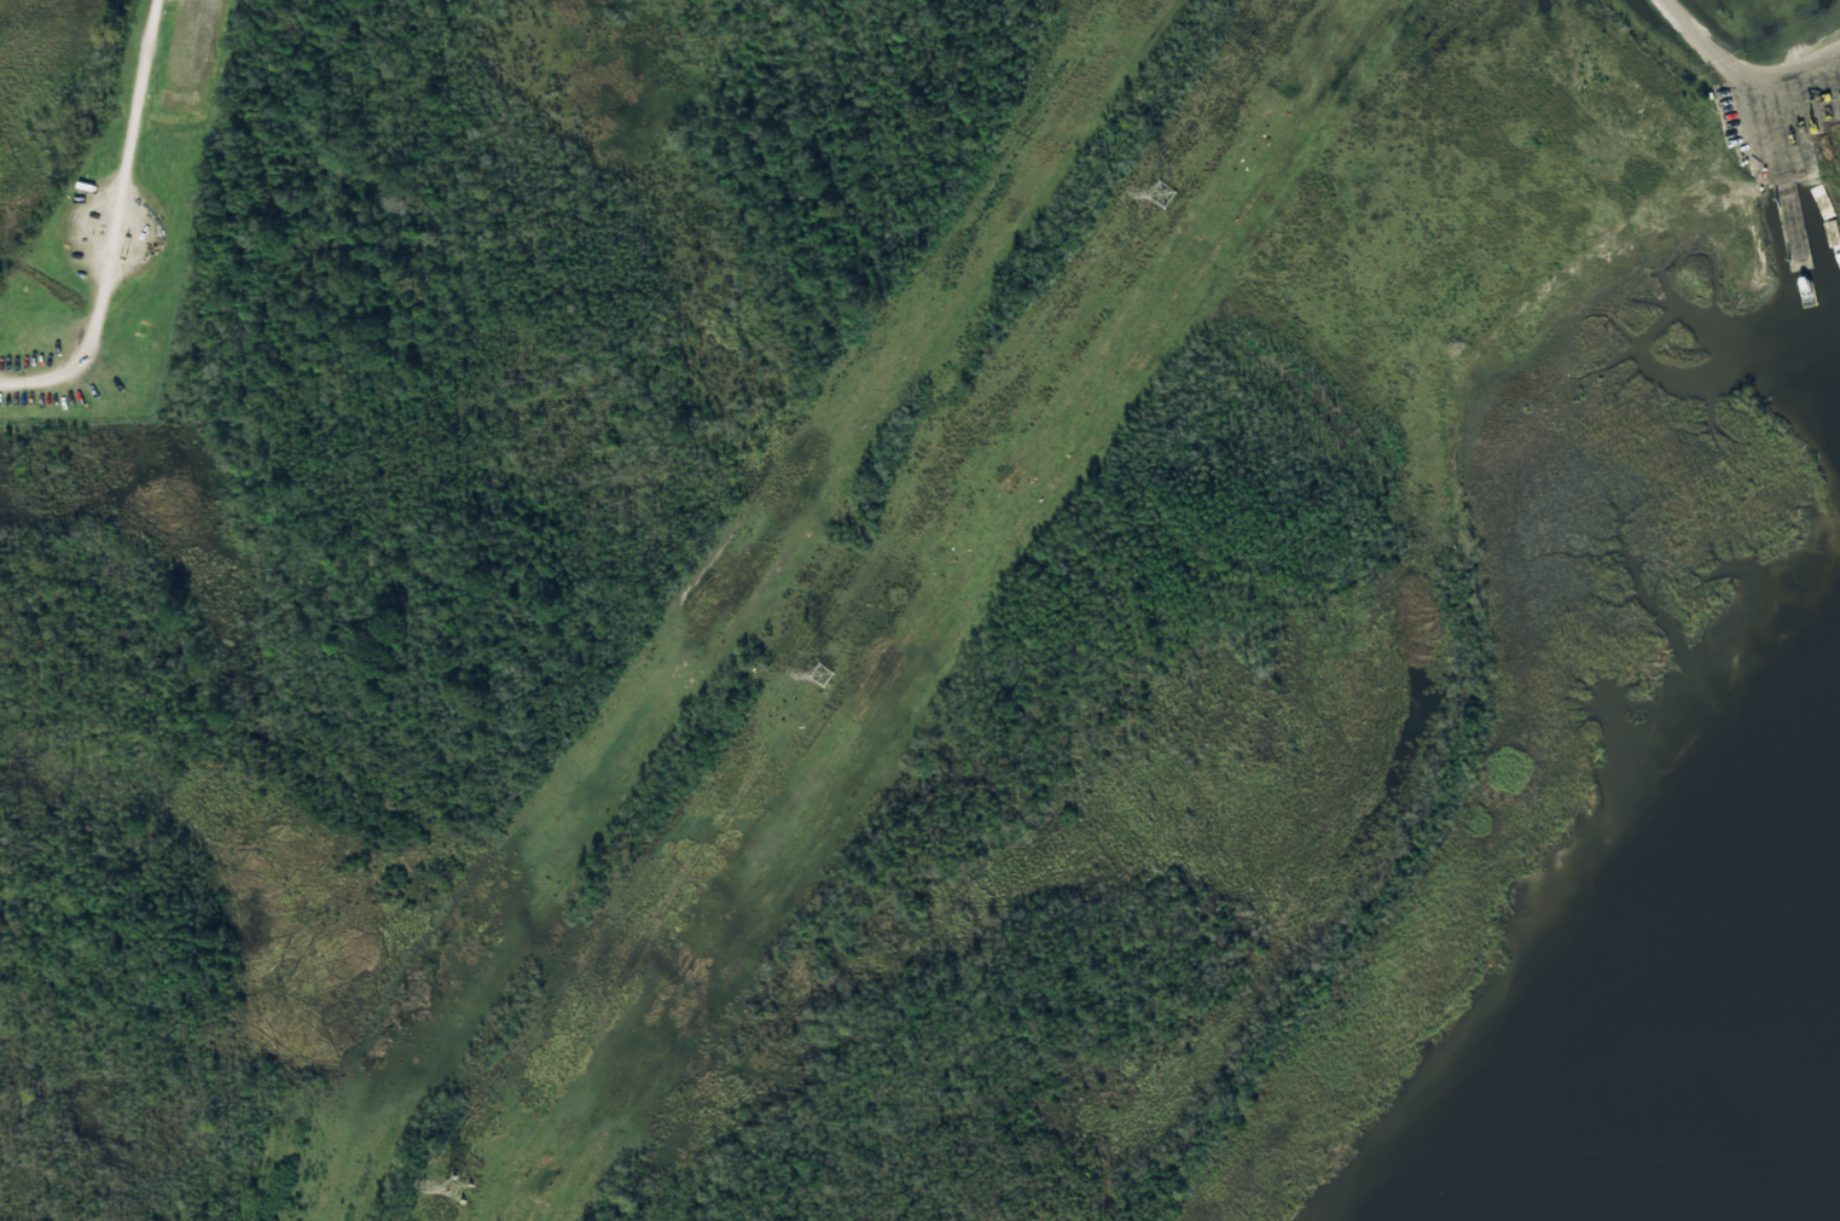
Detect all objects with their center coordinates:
parking lot: (186, 52)
road: (1737, 75)
power tower: (1160, 197)
road: (114, 225)
parking lot: (112, 234)
power tower: (819, 675)
power tower: (457, 1187)

